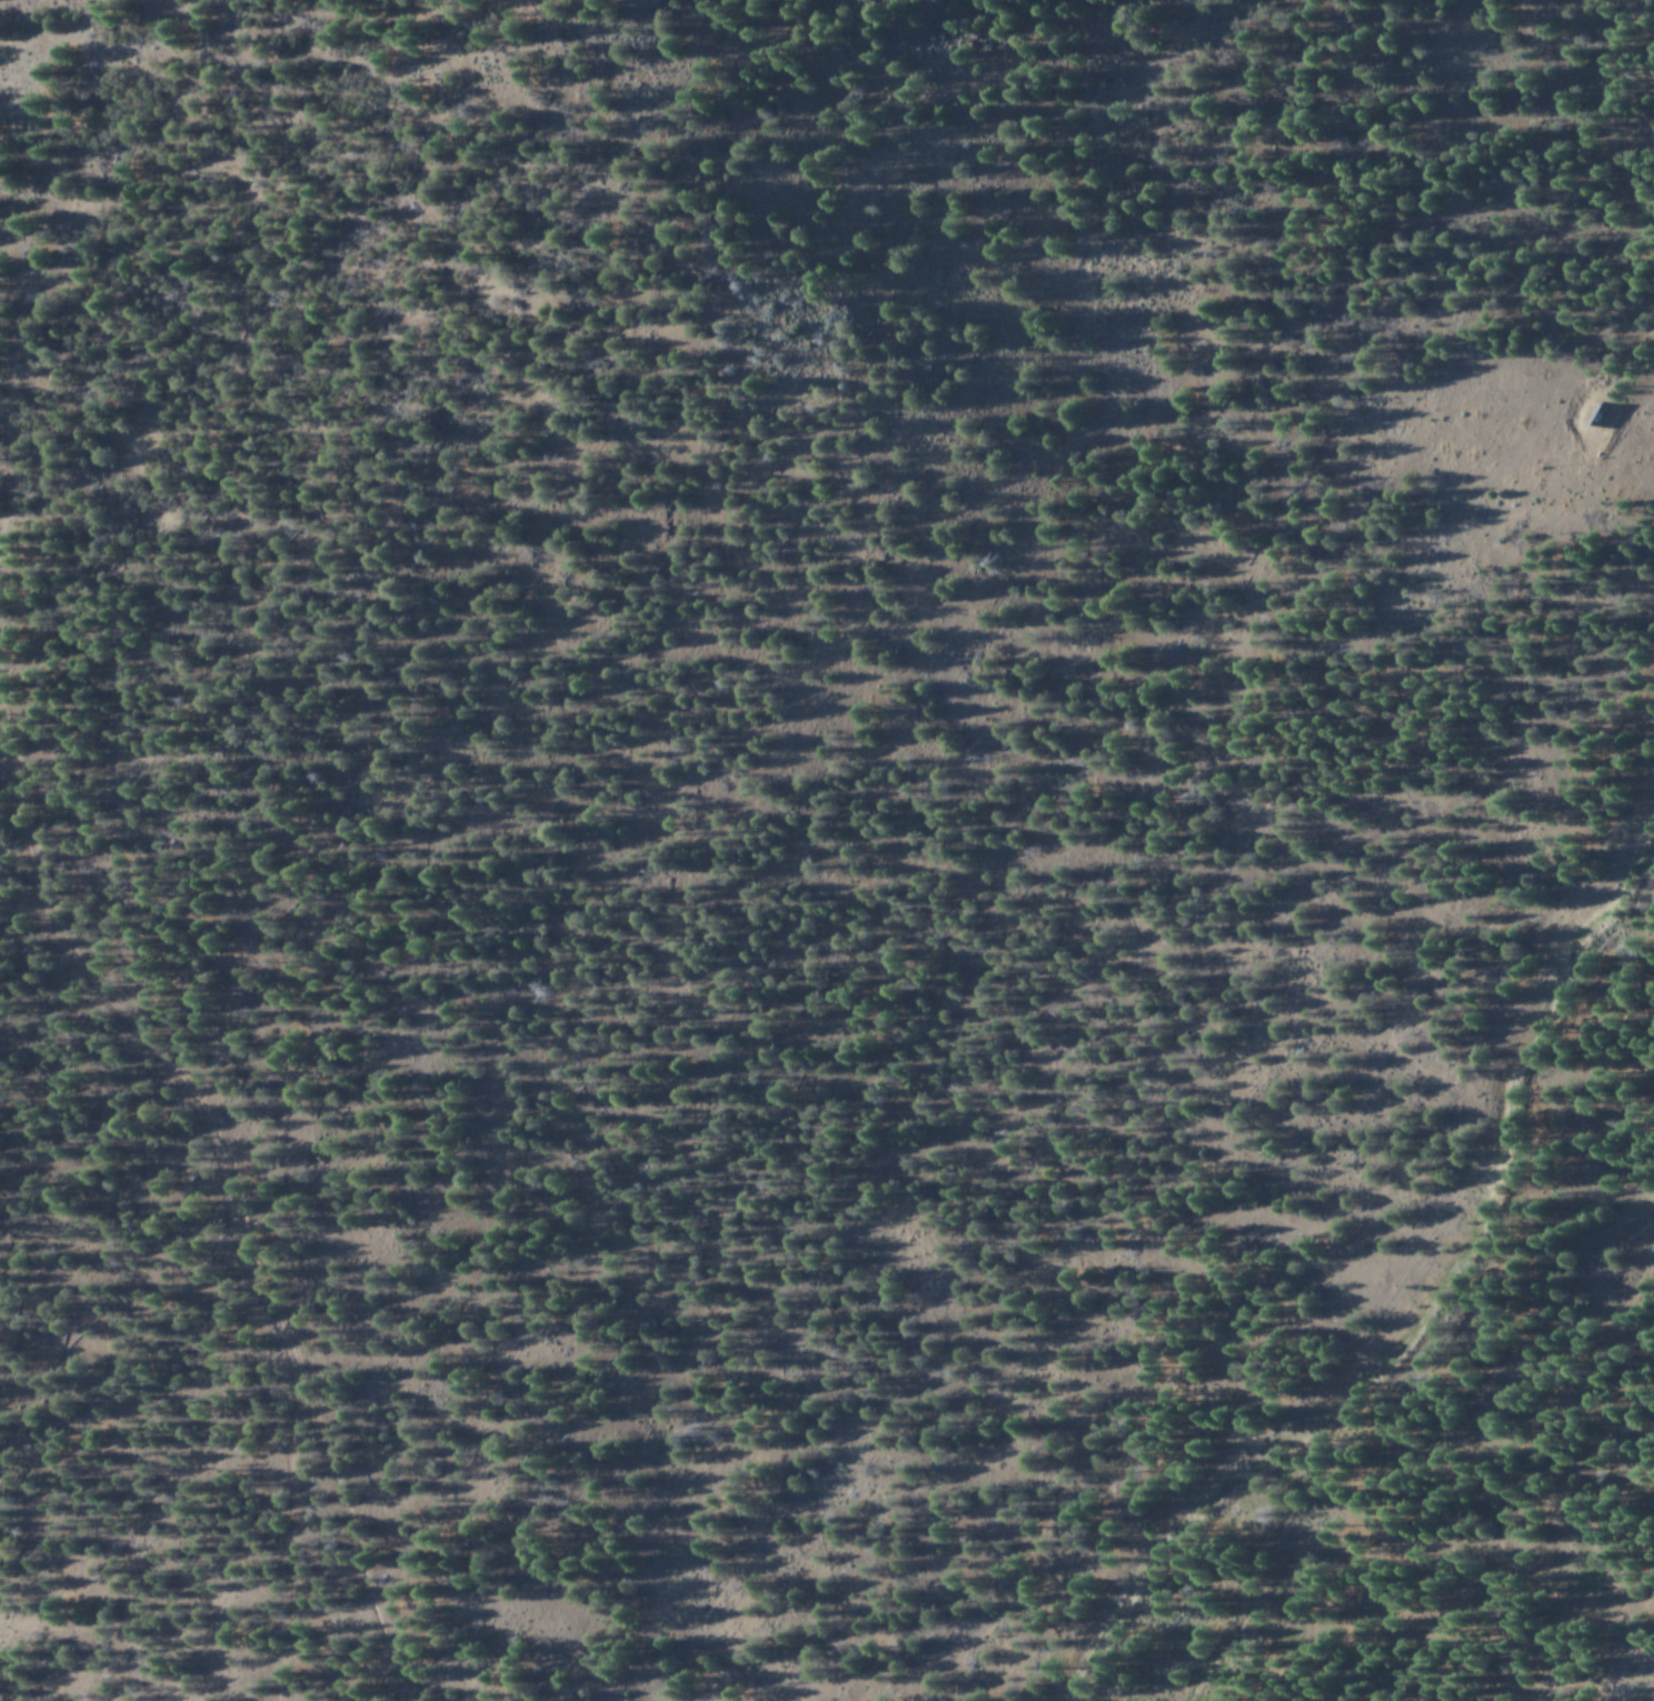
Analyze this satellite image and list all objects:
park: (1602, 1692)

